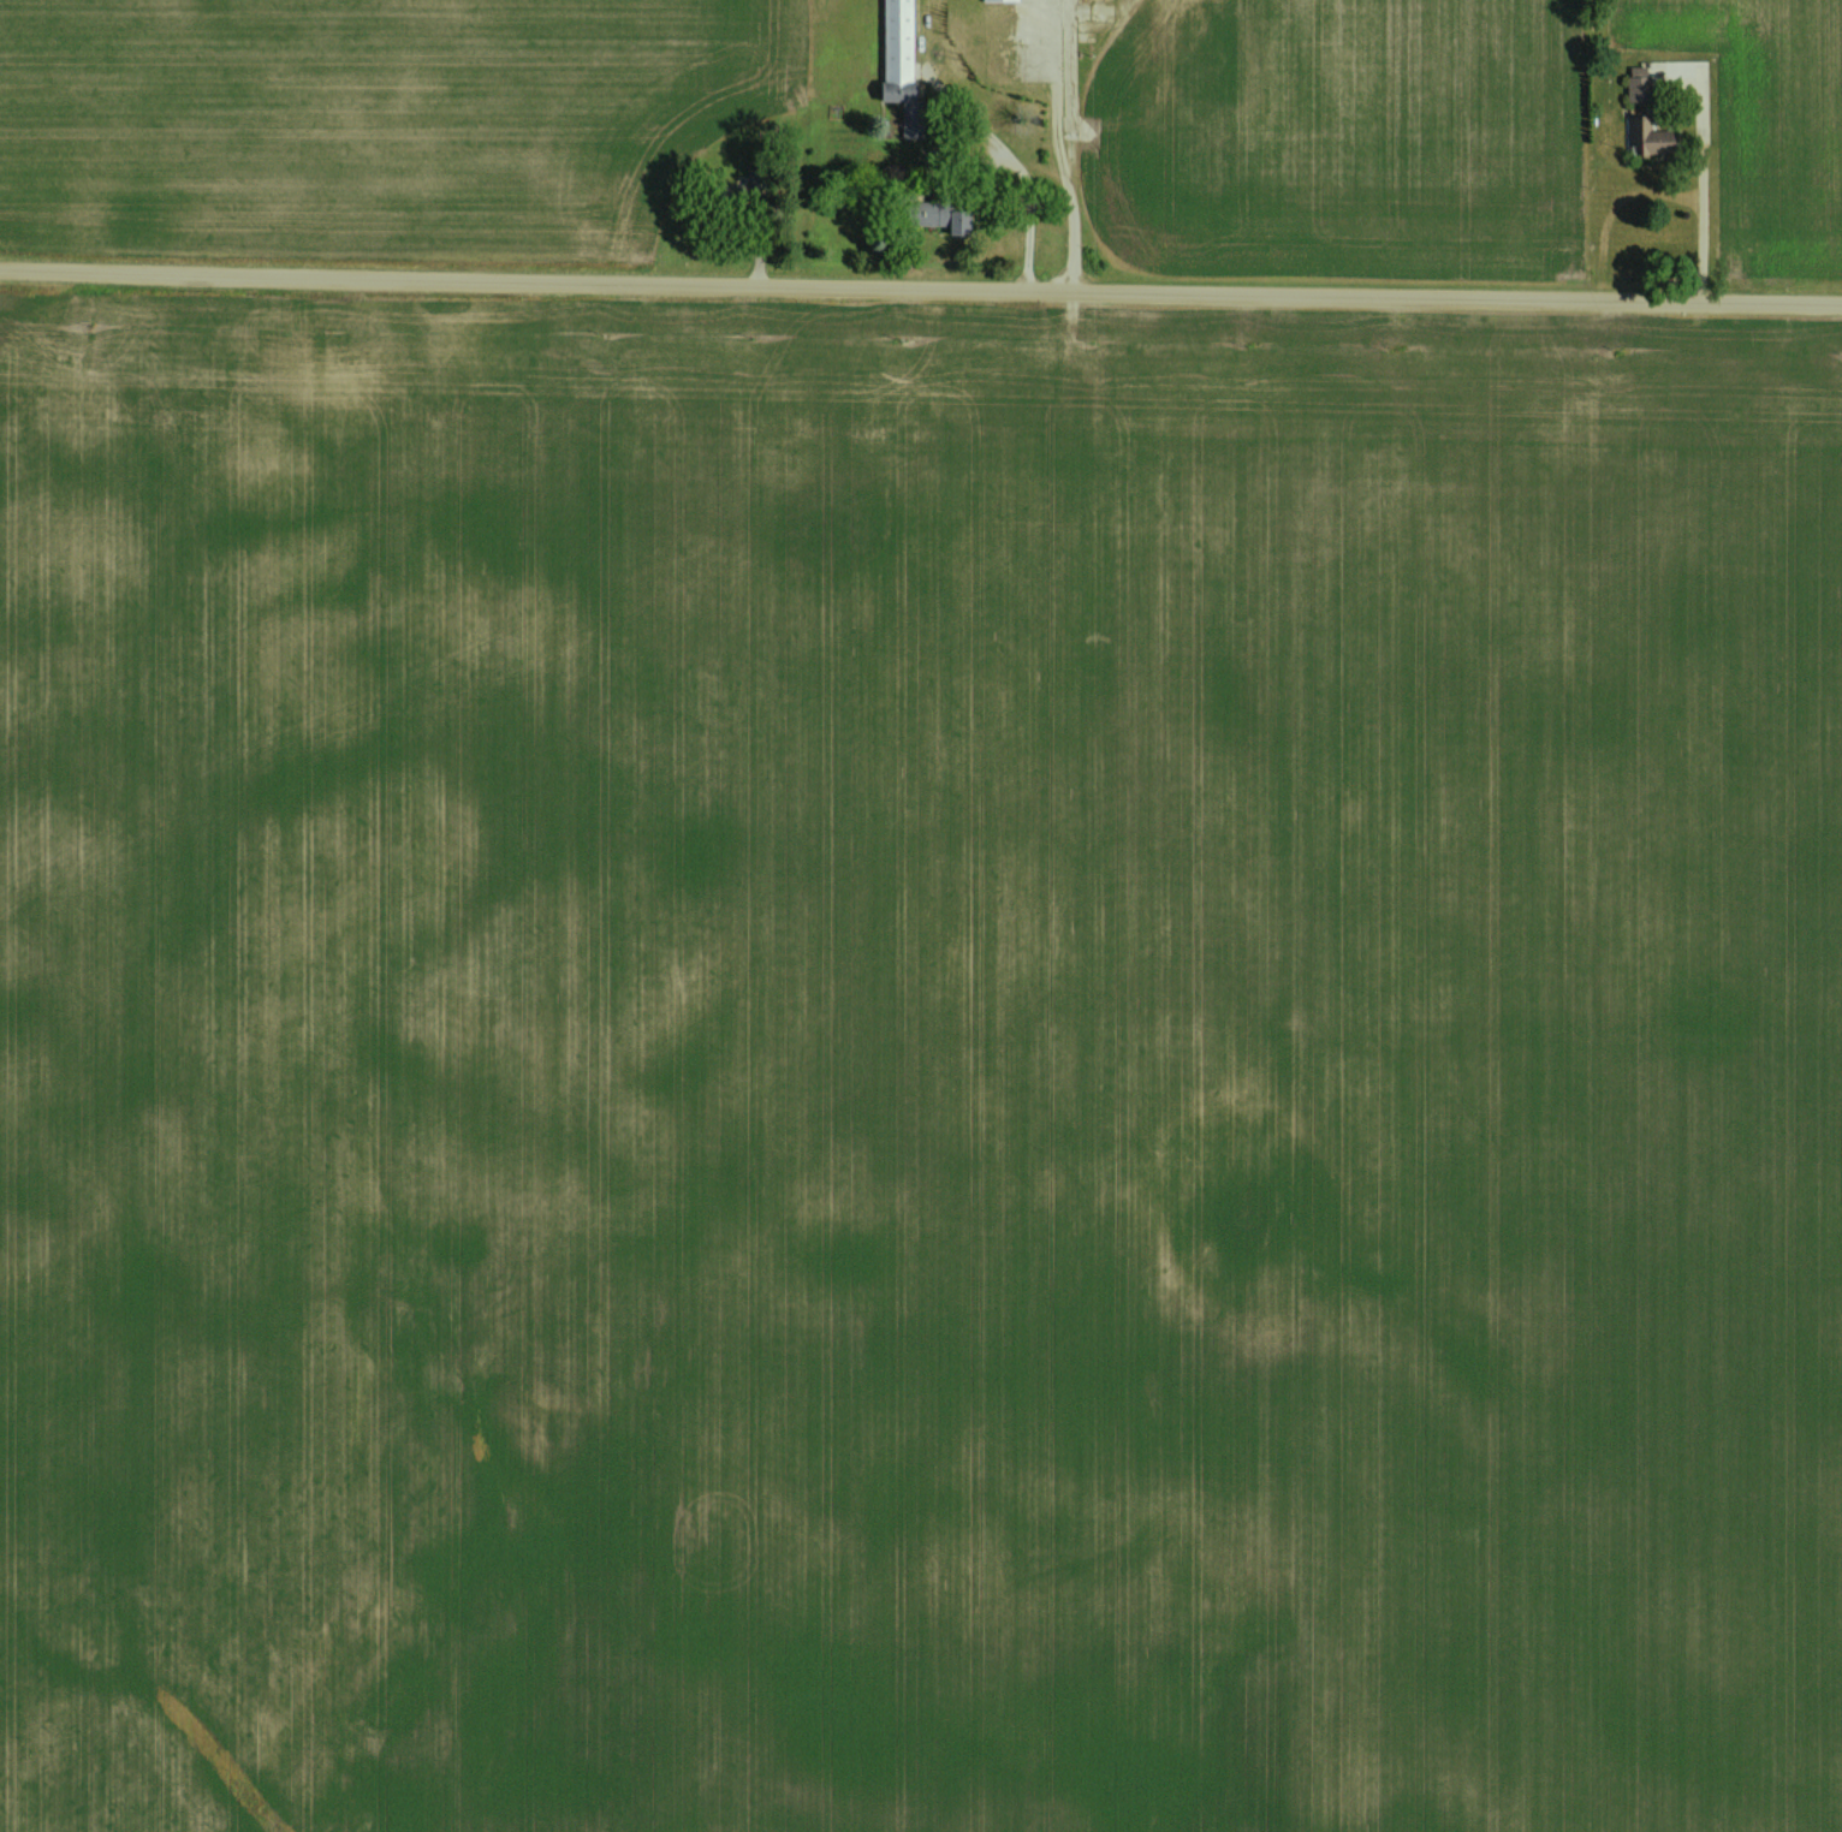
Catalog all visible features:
building: (990, 0)
building: (899, 64)
building: (1638, 83)
building: (1646, 136)
road: (1053, 153)
building: (755, 178)
road: (1021, 190)
building: (724, 192)
road: (1694, 213)
building: (944, 216)
road: (920, 284)

